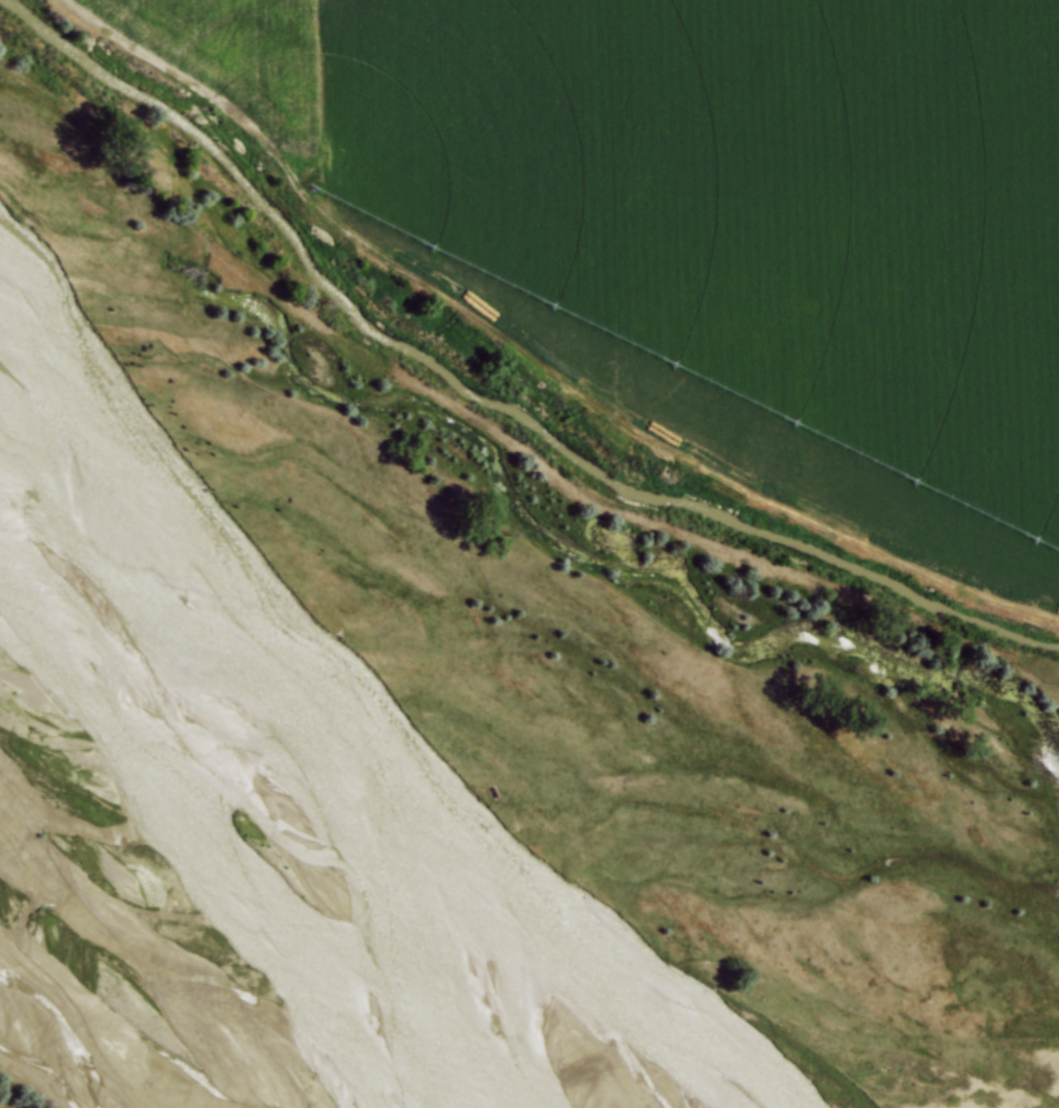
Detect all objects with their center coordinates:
river: (289, 762)

